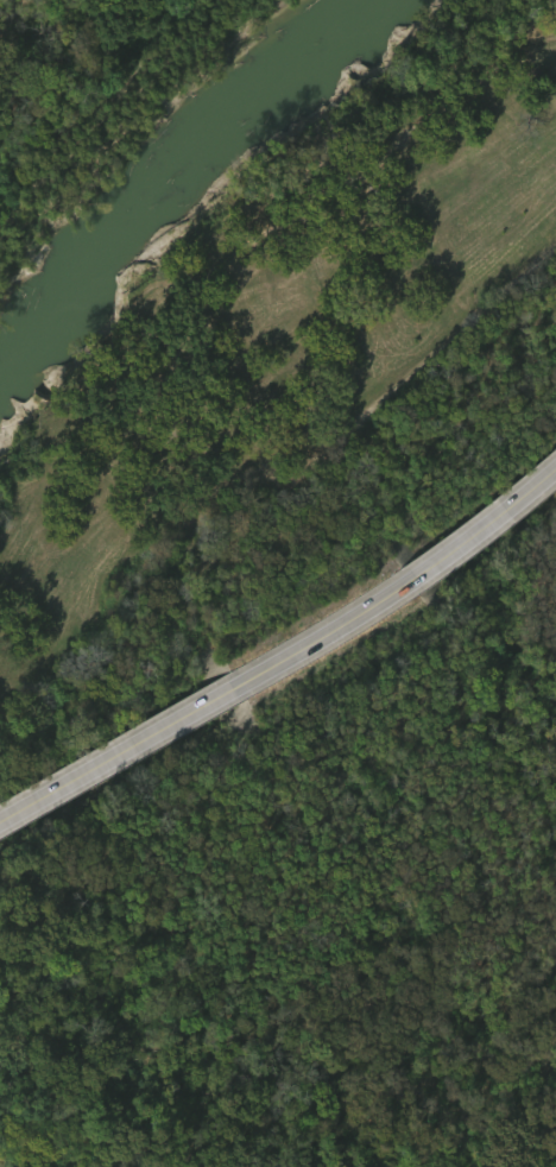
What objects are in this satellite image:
river: (164, 195)
road: (421, 575)
road: (137, 743)

